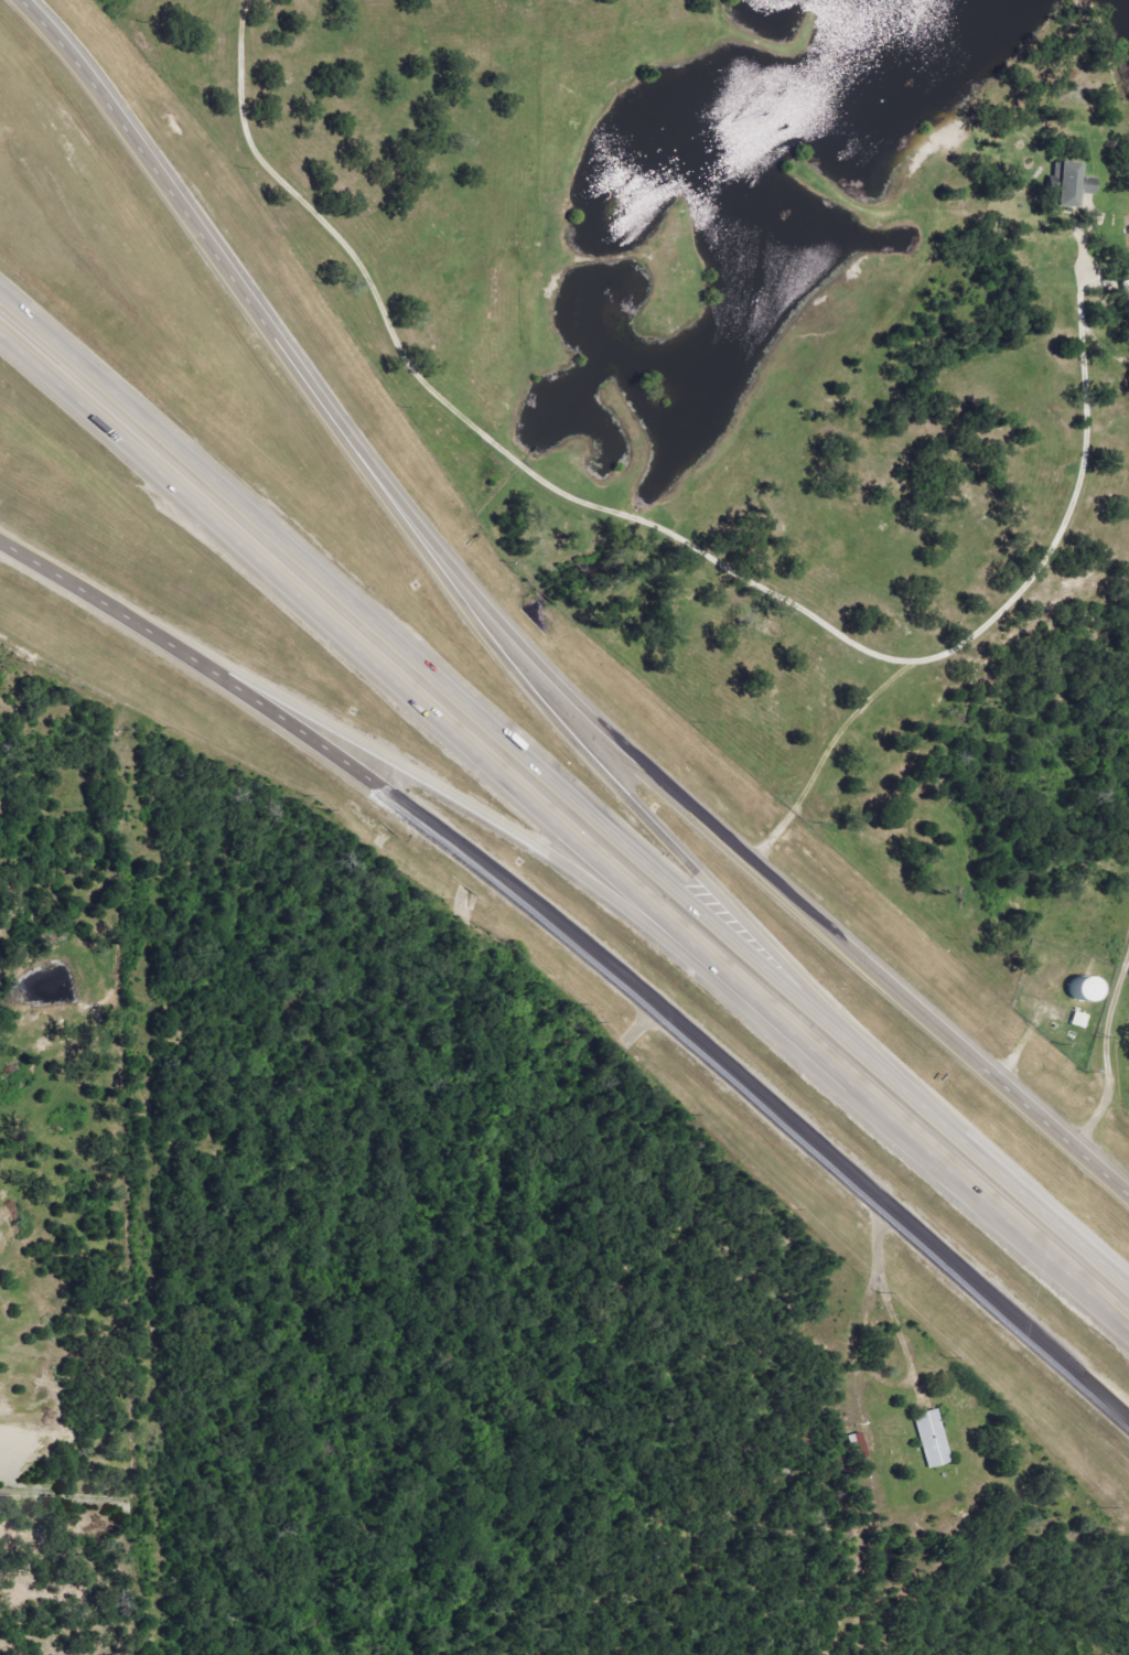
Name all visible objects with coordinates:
building: (1066, 185)
building: (1125, 289)
road: (249, 555)
road: (519, 643)
road: (570, 741)
road: (563, 794)
road: (462, 805)
road: (585, 952)
building: (1076, 989)
road: (1104, 1039)
road: (811, 1054)
building: (928, 1438)

